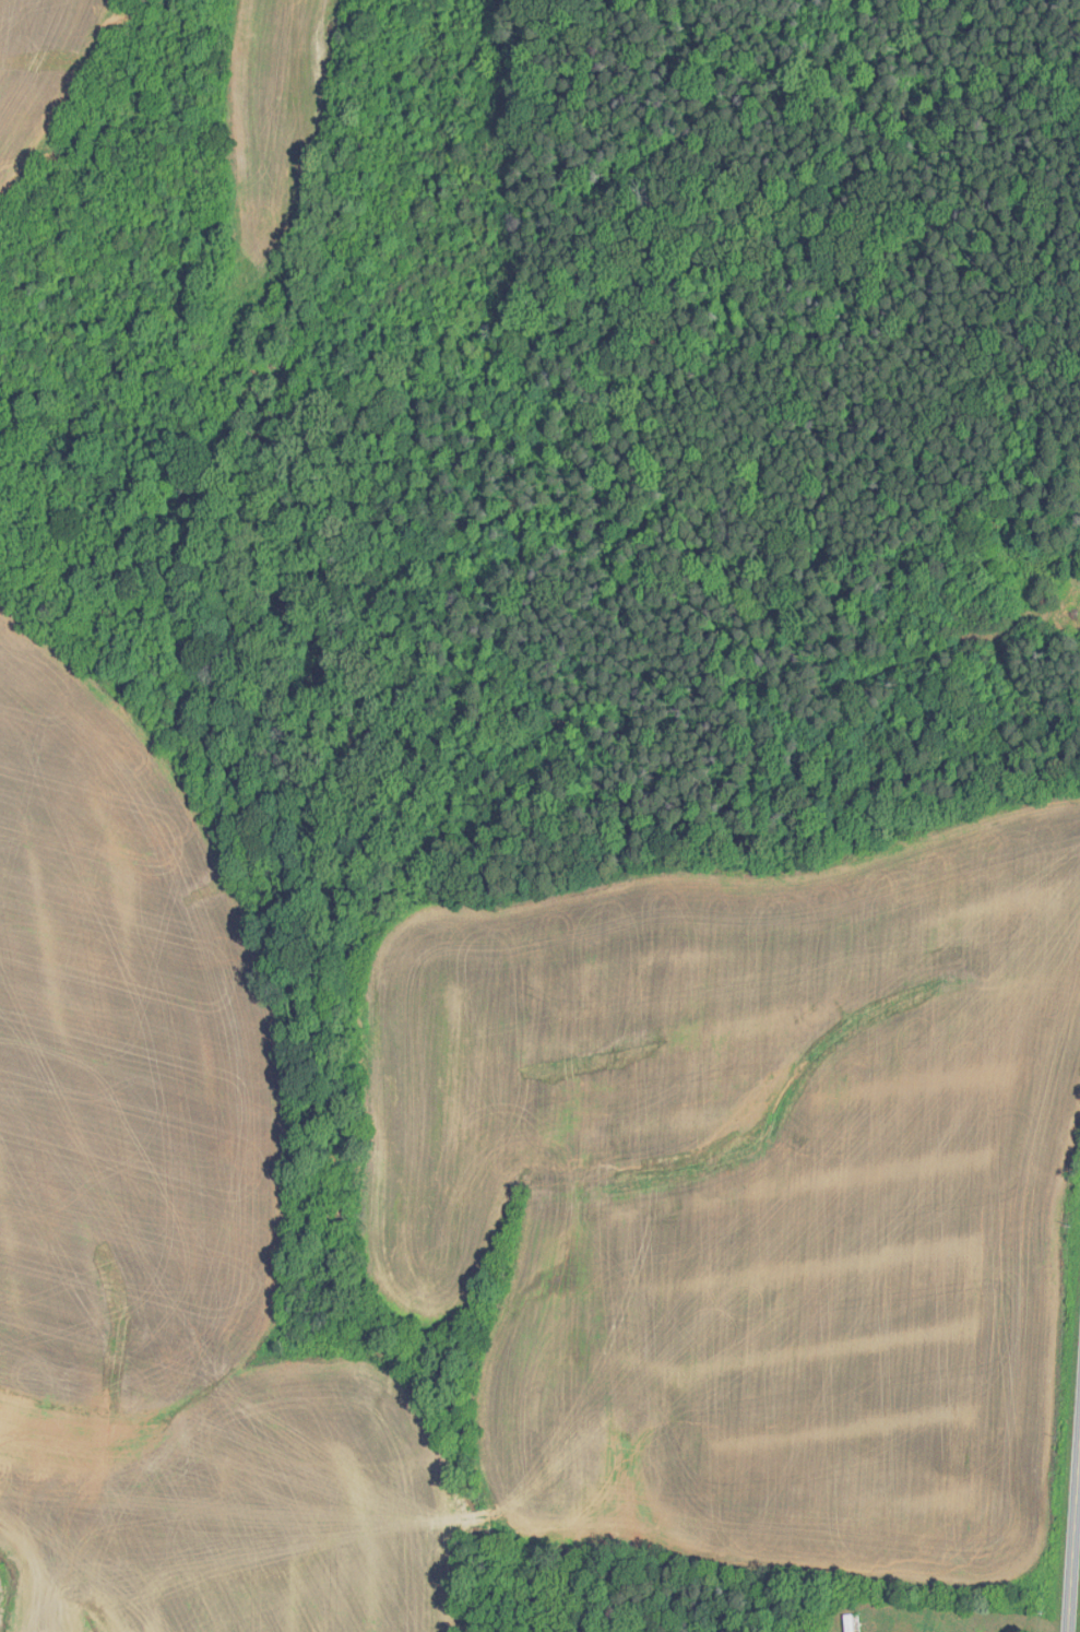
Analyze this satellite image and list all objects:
road: (1073, 1539)
building: (848, 1623)

